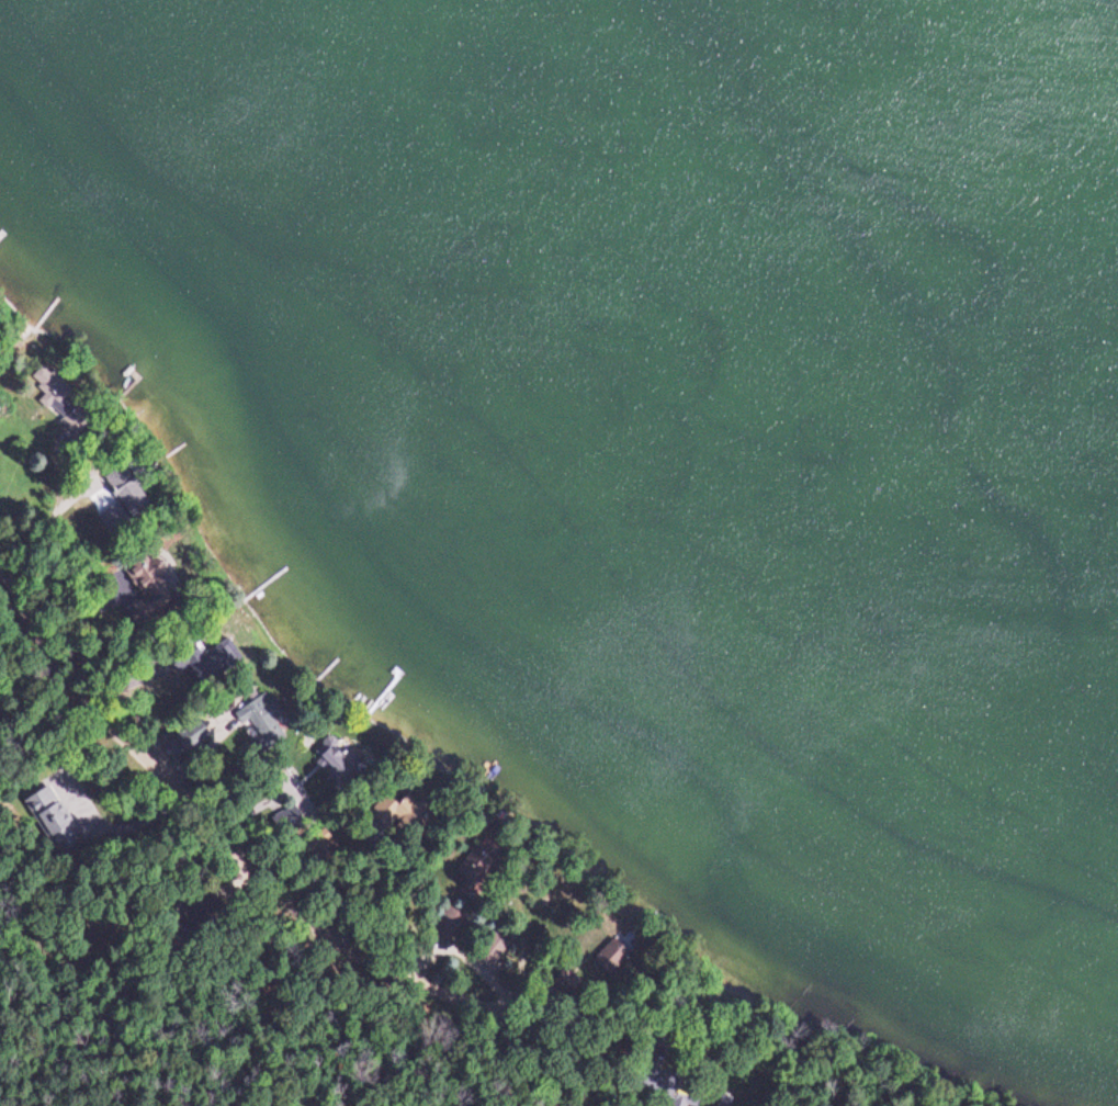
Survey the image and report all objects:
building: (53, 394)
building: (121, 488)
building: (56, 825)
road: (260, 867)
building: (662, 1085)

